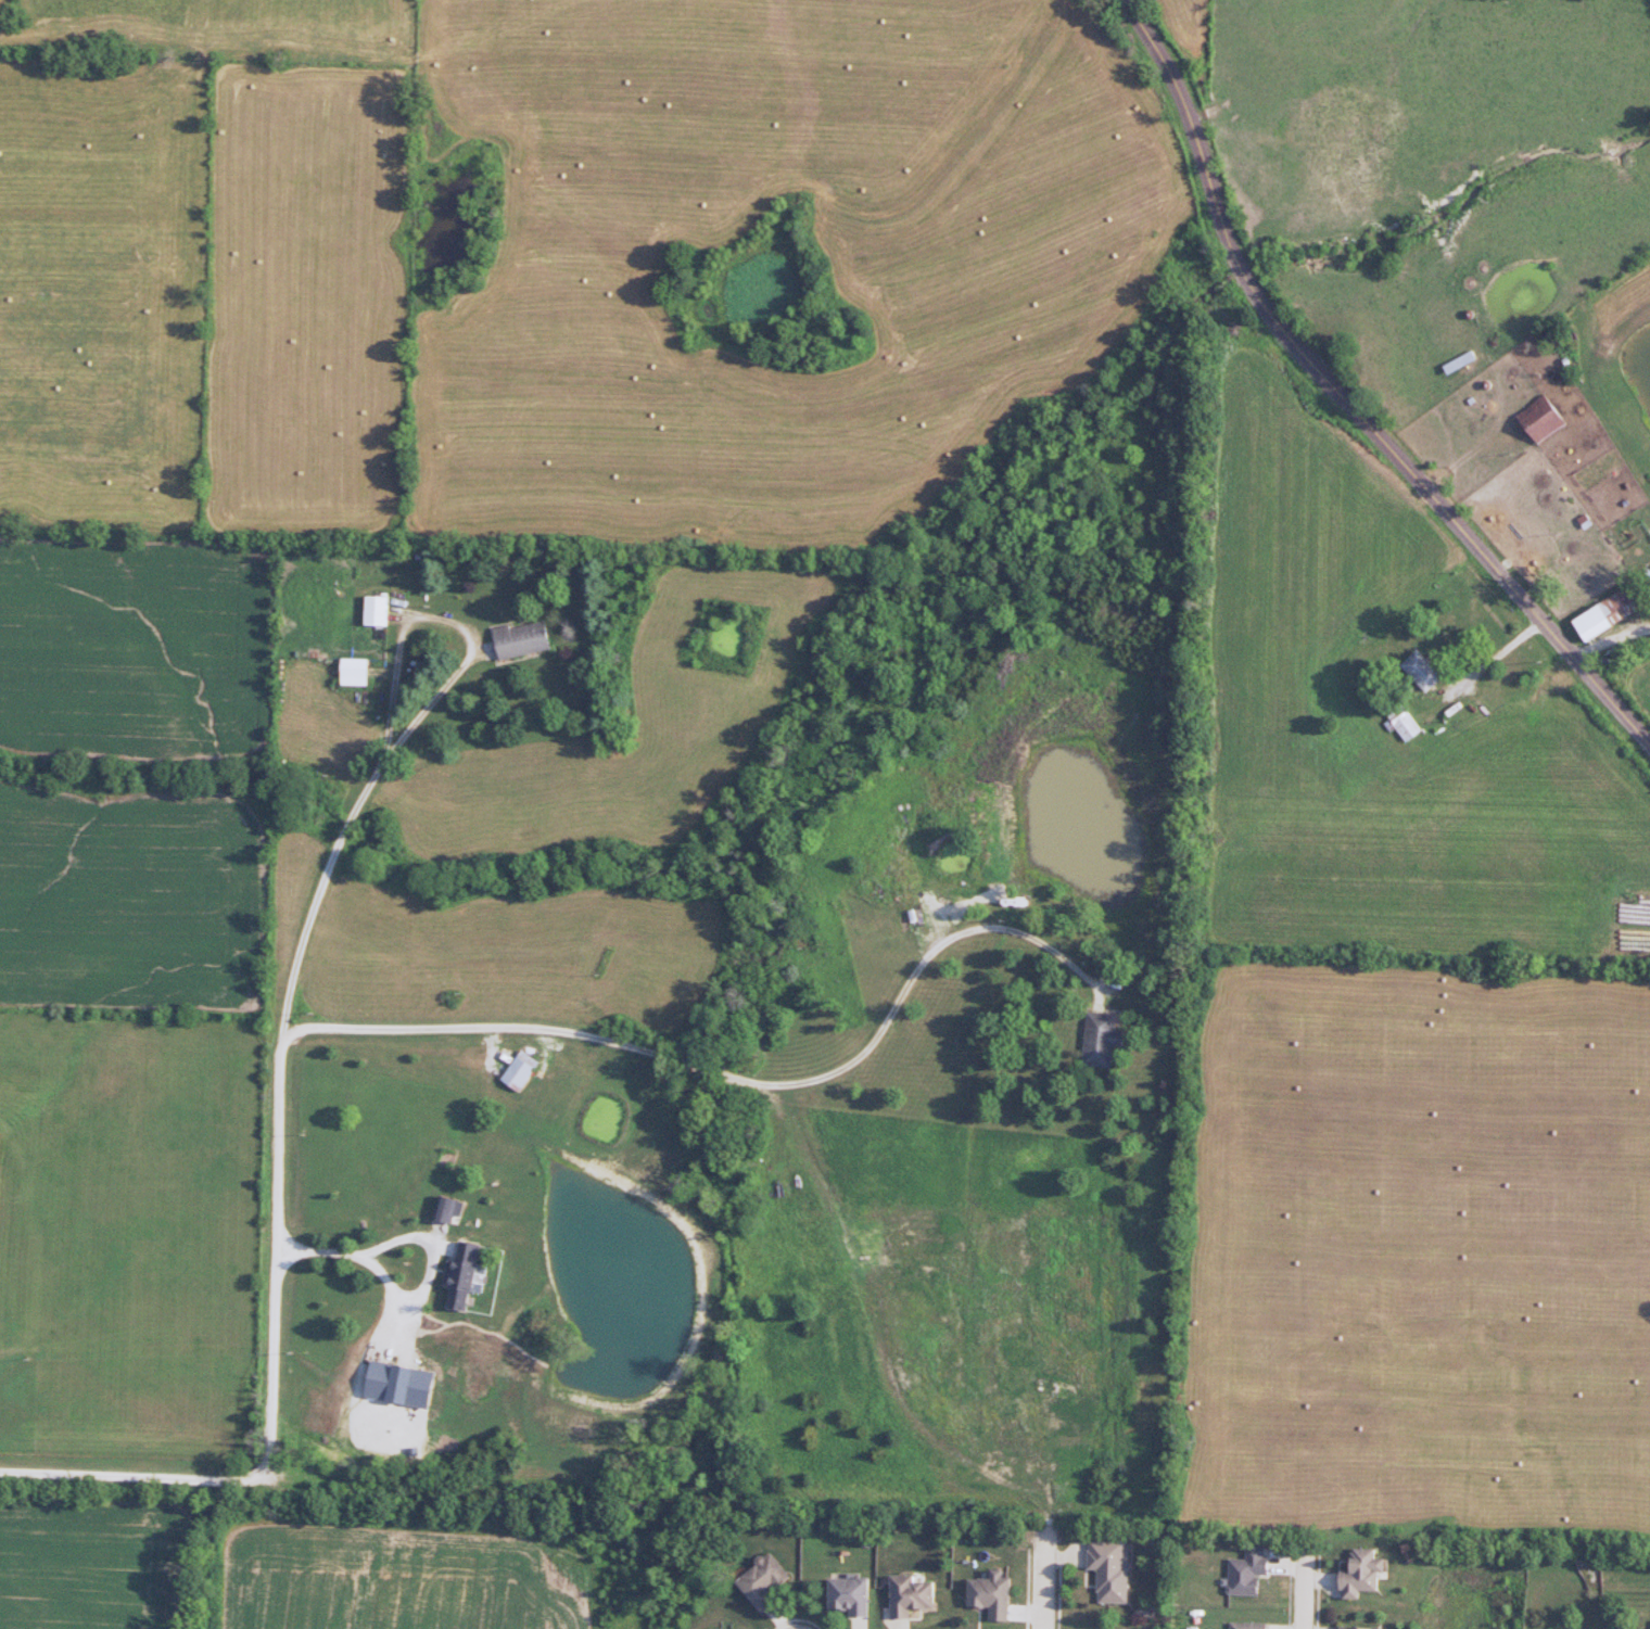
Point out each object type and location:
building: (1457, 362)
road: (1342, 398)
building: (1538, 420)
building: (381, 610)
building: (1601, 614)
road: (447, 621)
building: (526, 639)
building: (1416, 671)
building: (1399, 721)
building: (1101, 1039)
road: (684, 1062)
building: (523, 1070)
building: (561, 1110)
building: (450, 1209)
road: (419, 1237)
road: (274, 1243)
building: (1110, 1573)
building: (1367, 1573)
building: (1249, 1574)
building: (767, 1581)
road: (1039, 1581)
road: (1303, 1593)
building: (854, 1595)
building: (914, 1595)
building: (993, 1596)
building: (1251, 1625)
building: (1365, 1628)

